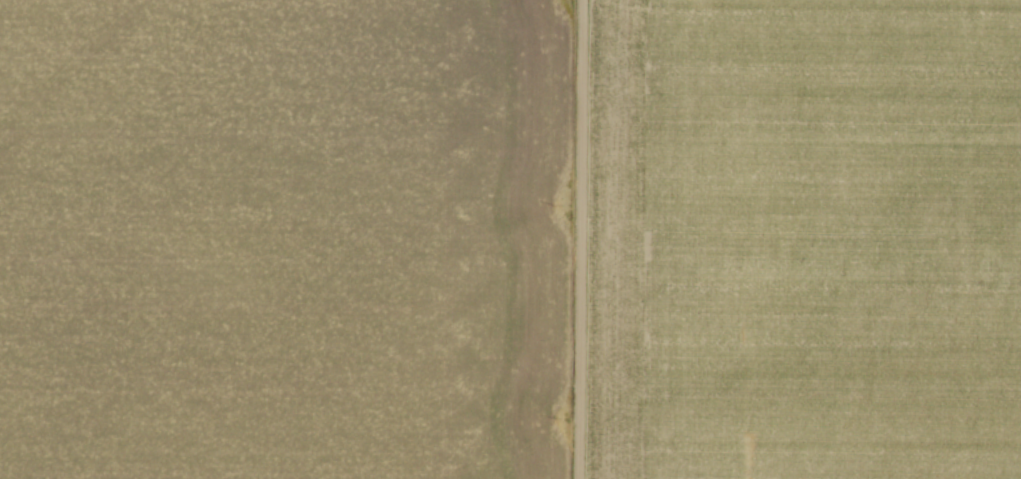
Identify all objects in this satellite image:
crop: (278, 239)
road: (580, 239)
crop: (808, 239)

